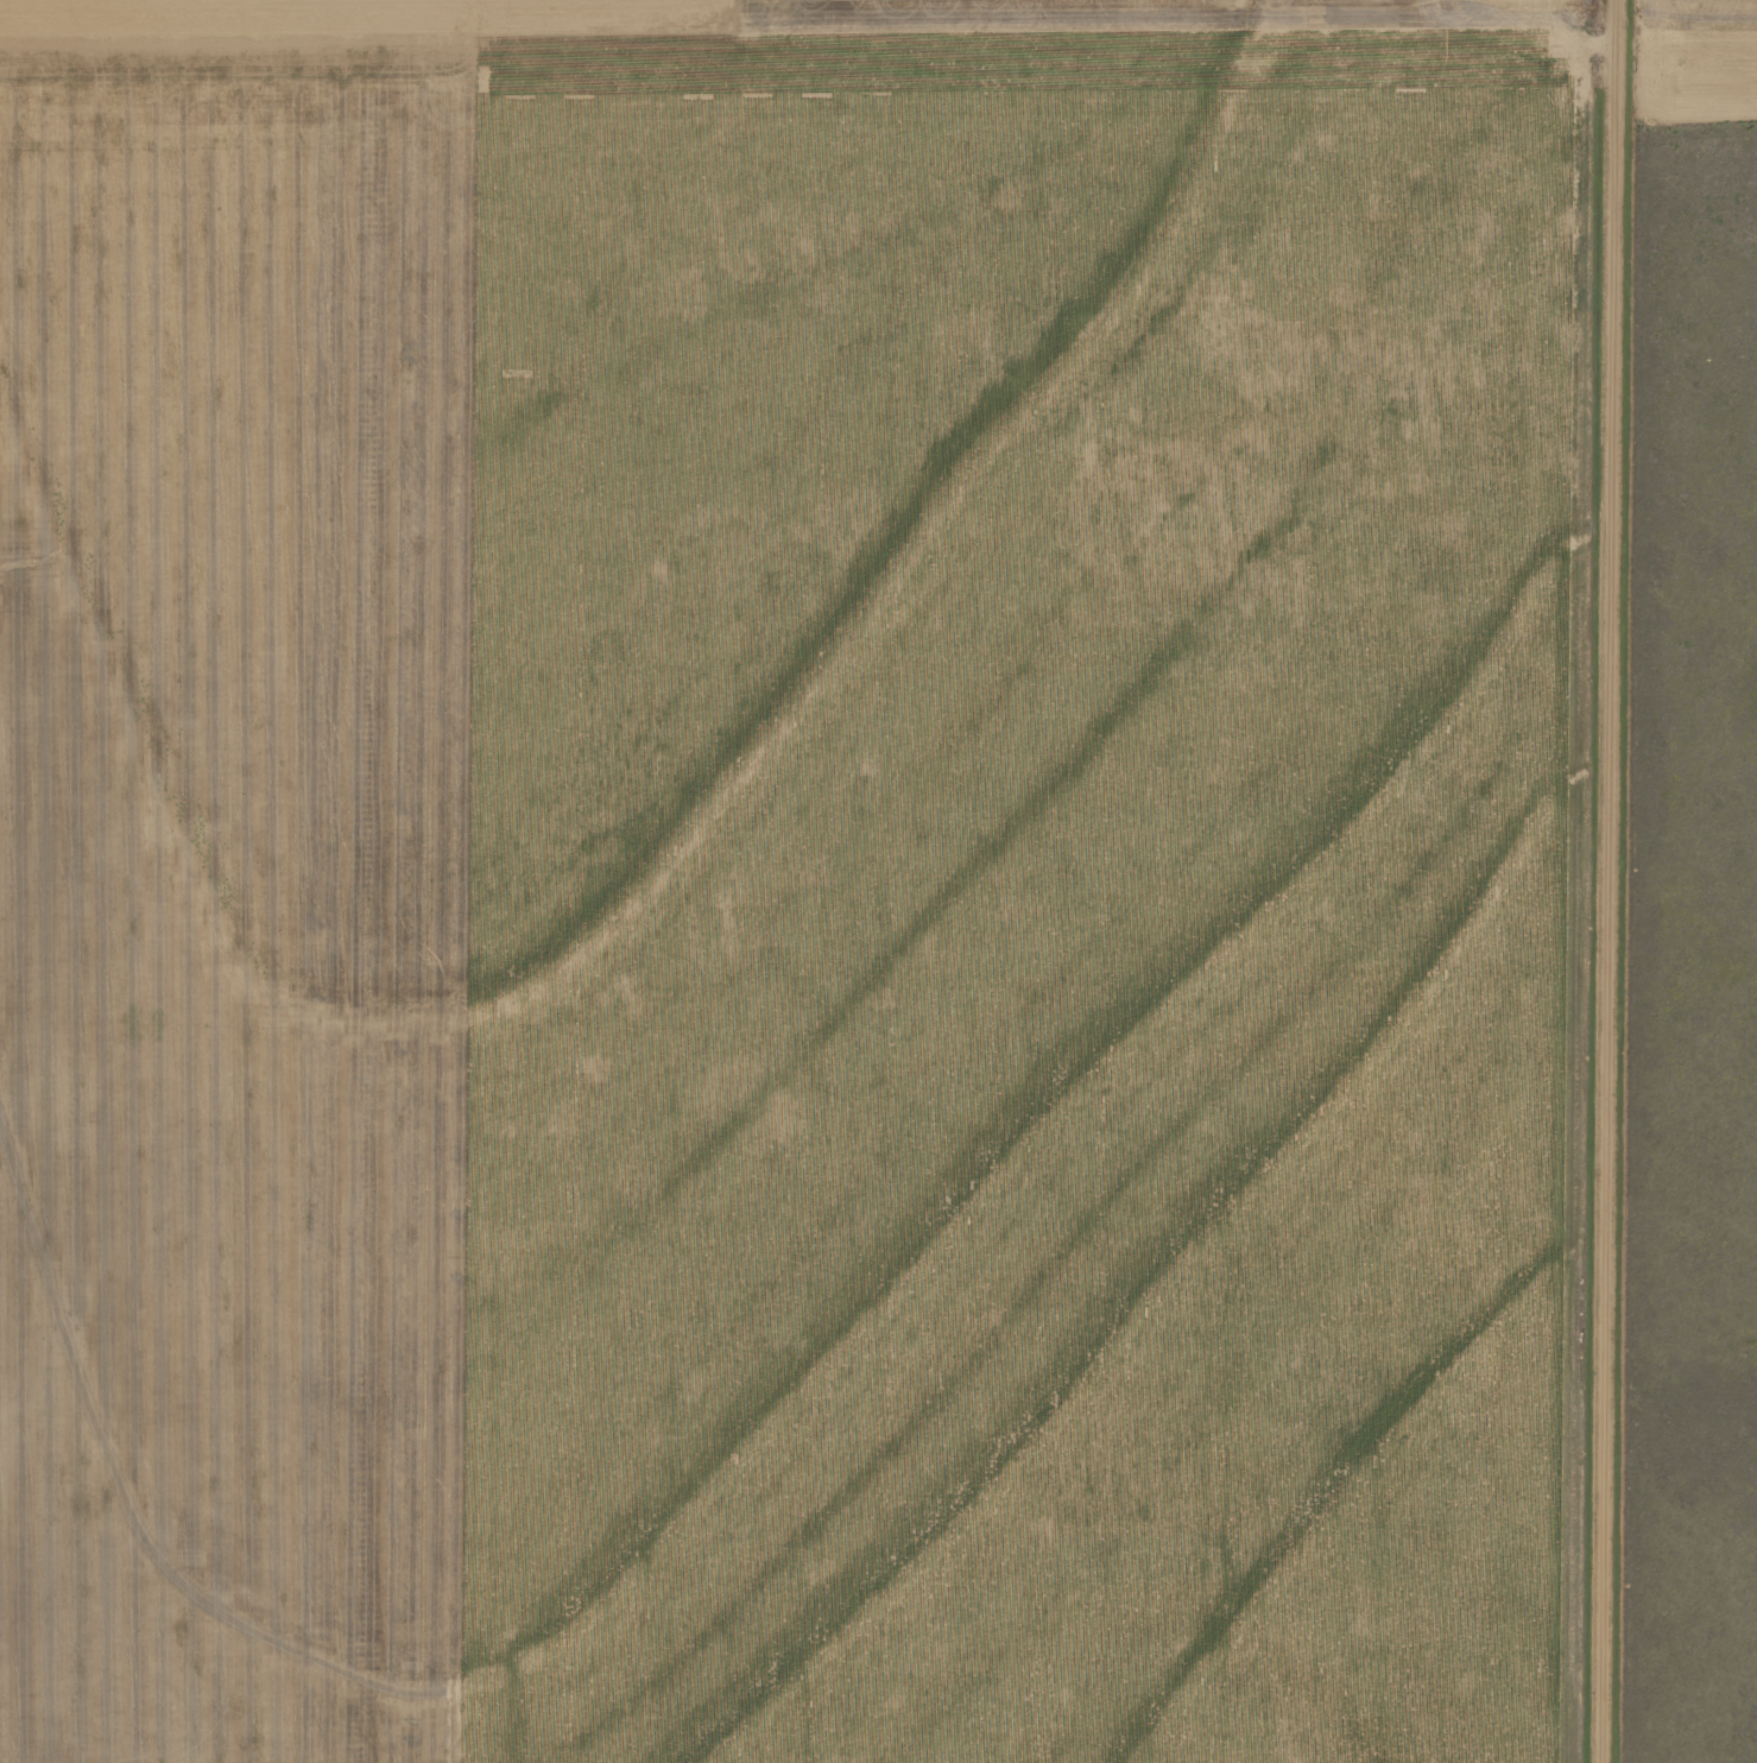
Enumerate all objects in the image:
road: (1614, 881)

